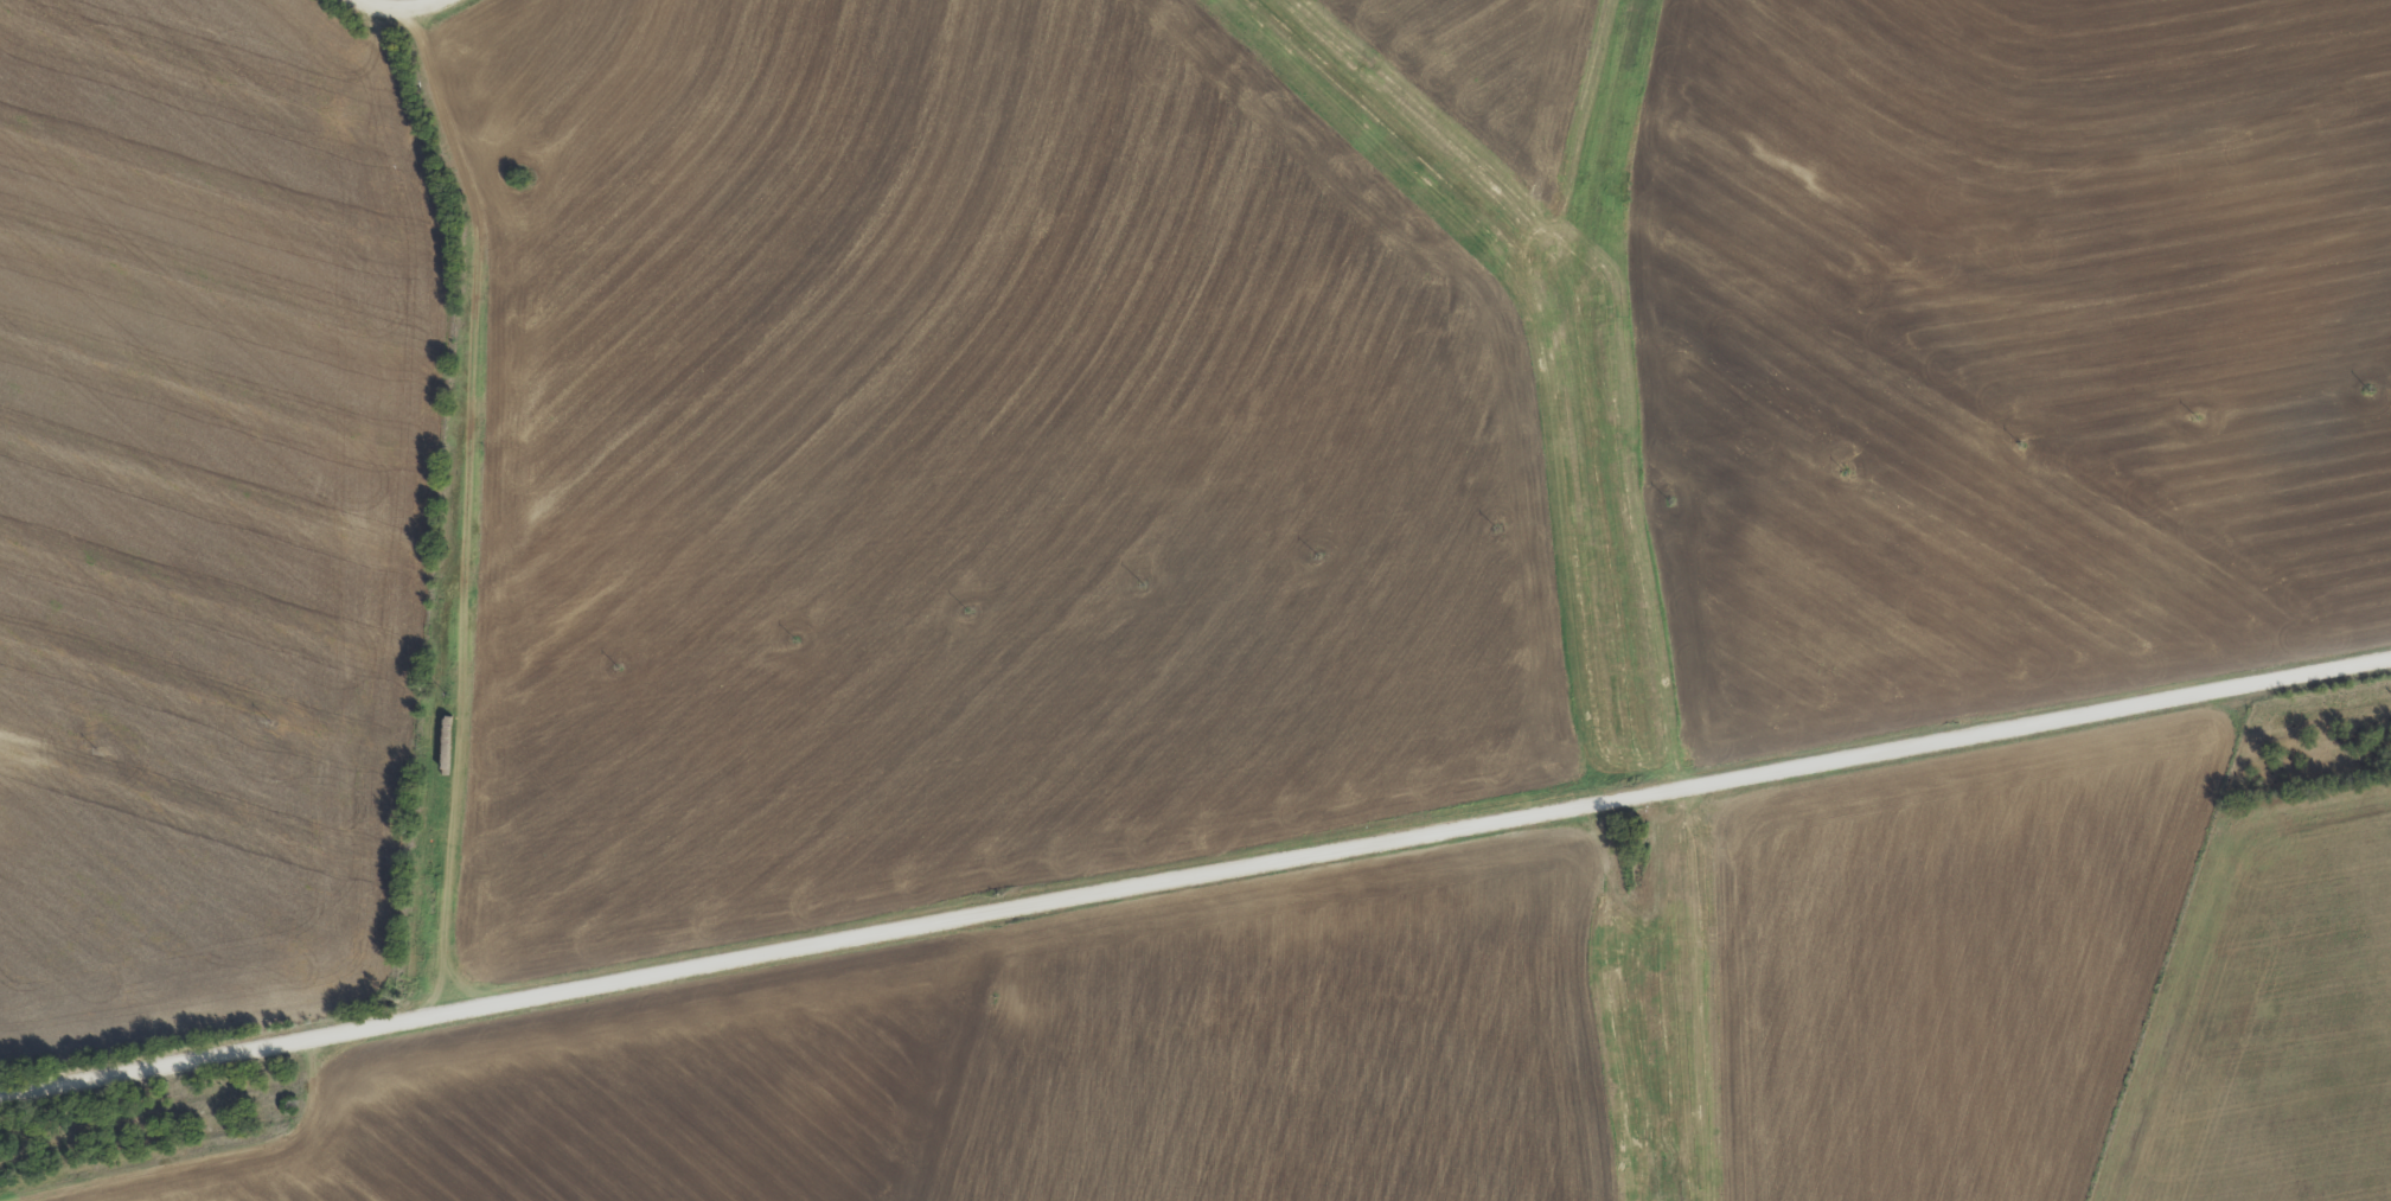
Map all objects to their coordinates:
road: (1194, 862)

